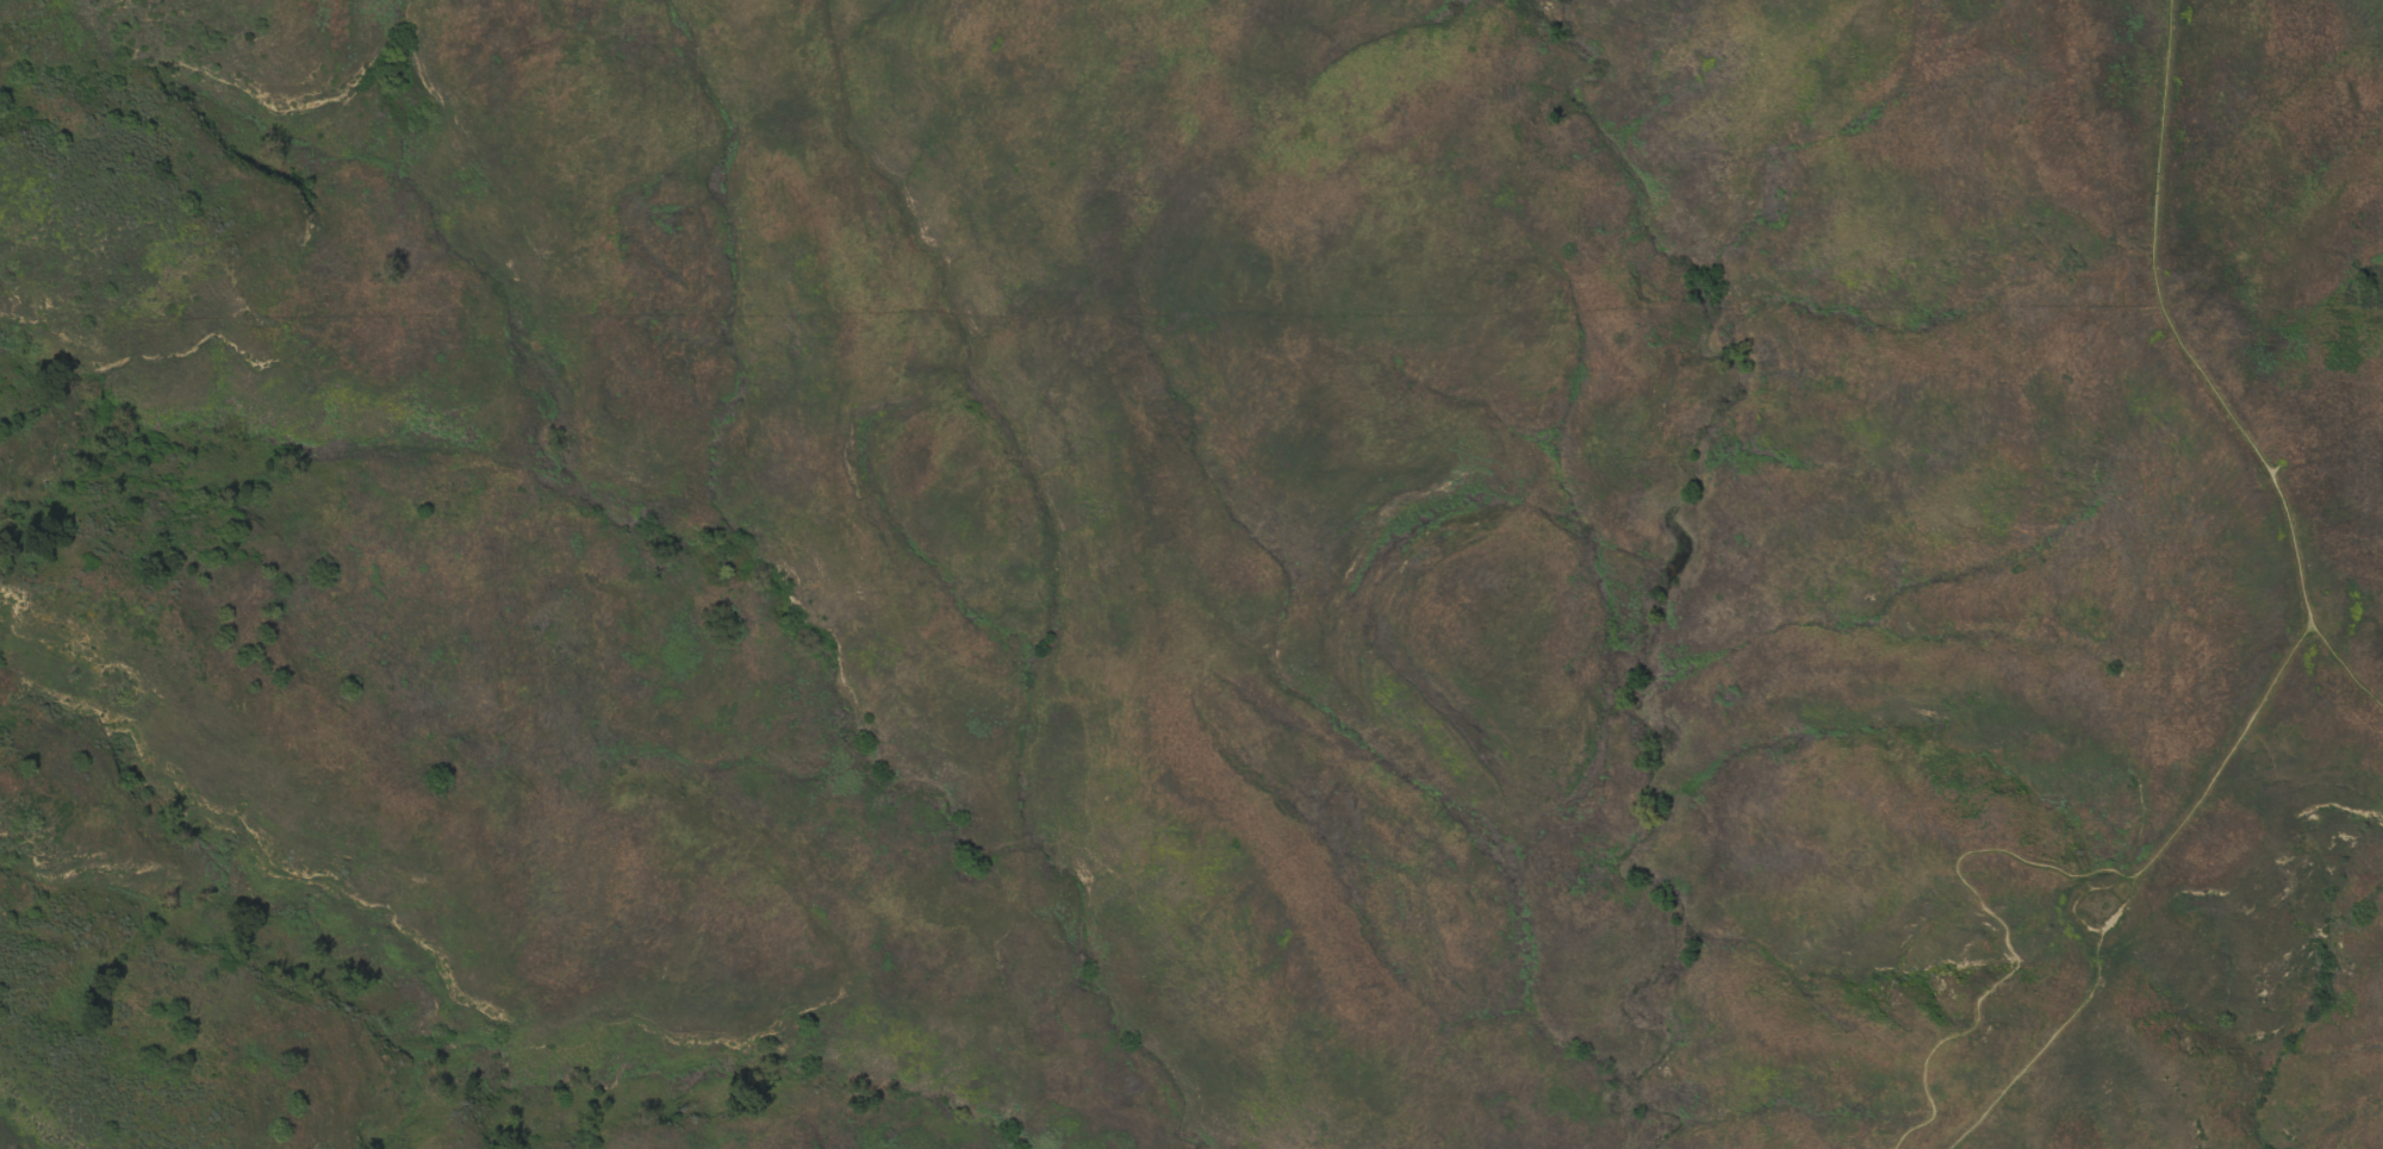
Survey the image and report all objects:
road: (2159, 132)
road: (2248, 436)
power tower: (2335, 597)
road: (2345, 668)
road: (2210, 779)
road: (2078, 897)
power tower: (2104, 911)
road: (2003, 933)
road: (2043, 1048)

